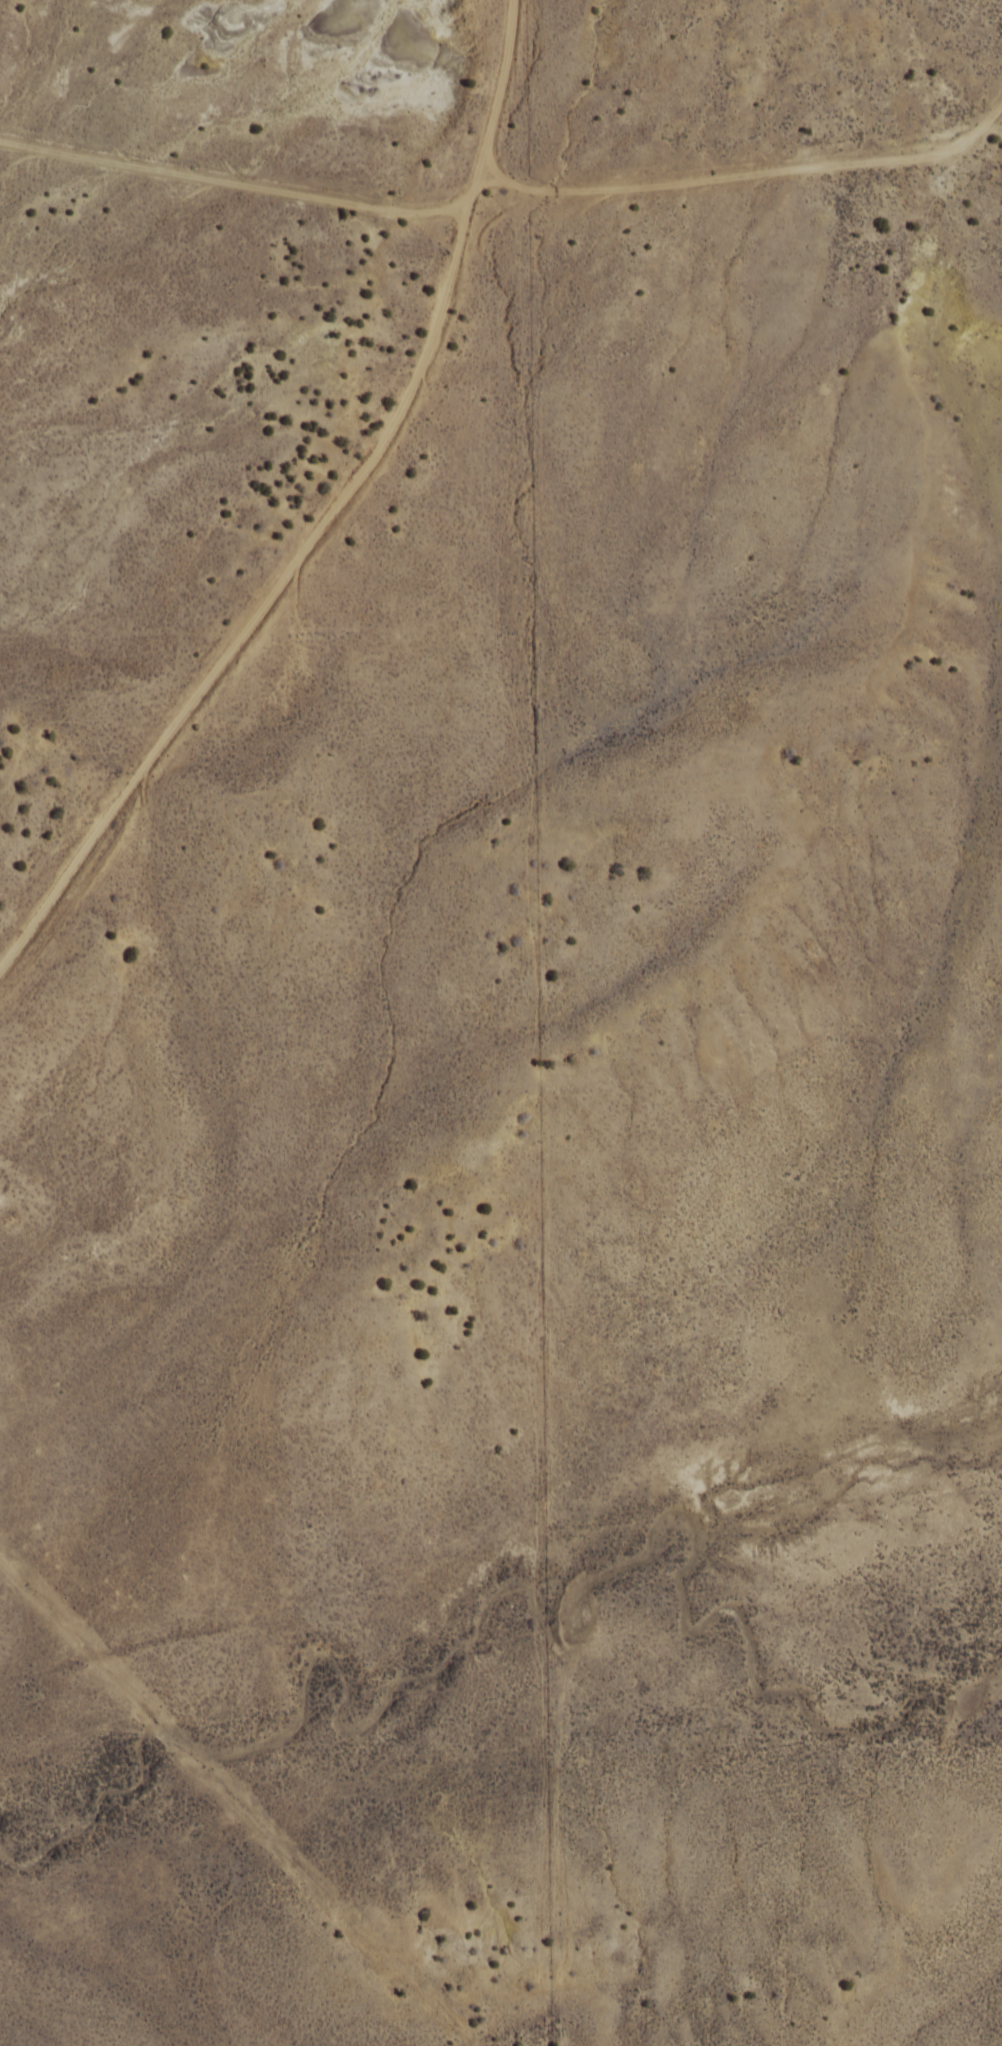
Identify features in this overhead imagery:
road: (327, 519)
river: (525, 1605)

